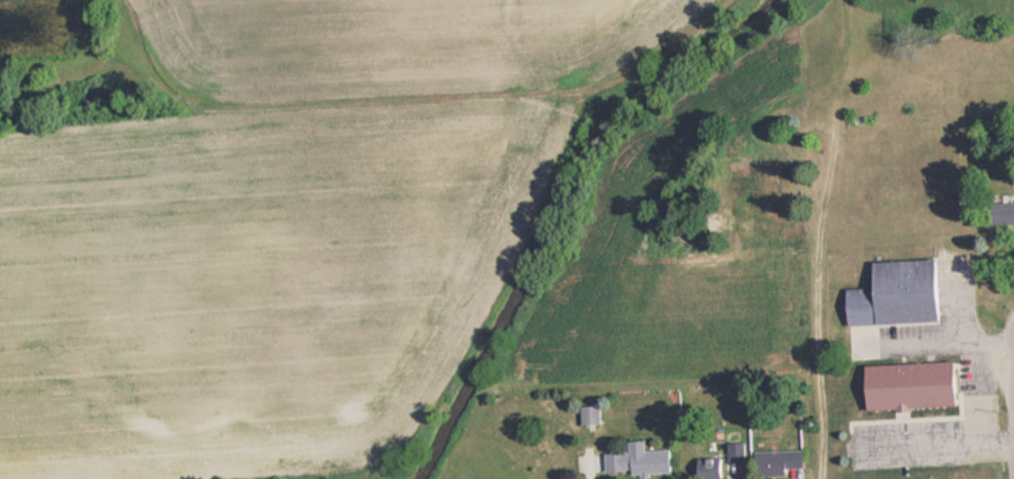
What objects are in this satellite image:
building: (762, 165)
building: (999, 212)
building: (890, 293)
road: (1011, 381)
building: (903, 385)
building: (587, 414)
building: (634, 460)
building: (774, 461)
building: (704, 468)

